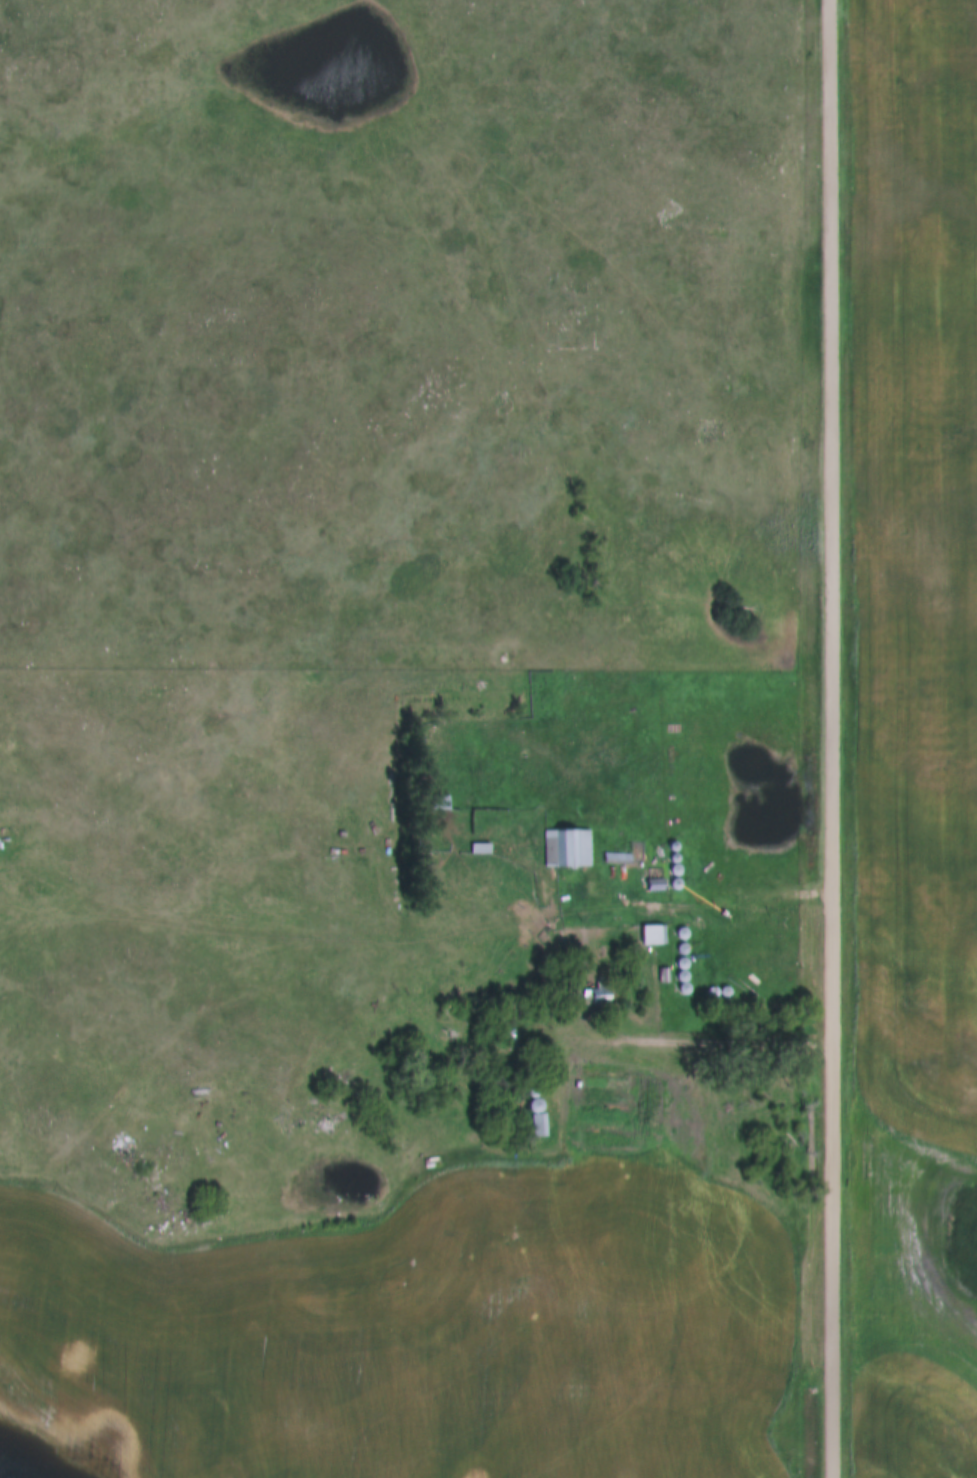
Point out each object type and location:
road: (832, 739)
building: (440, 806)
building: (572, 839)
building: (618, 861)
building: (655, 888)
road: (720, 905)
building: (653, 937)
building: (596, 997)
building: (509, 1041)
road: (691, 1043)
building: (538, 1120)

